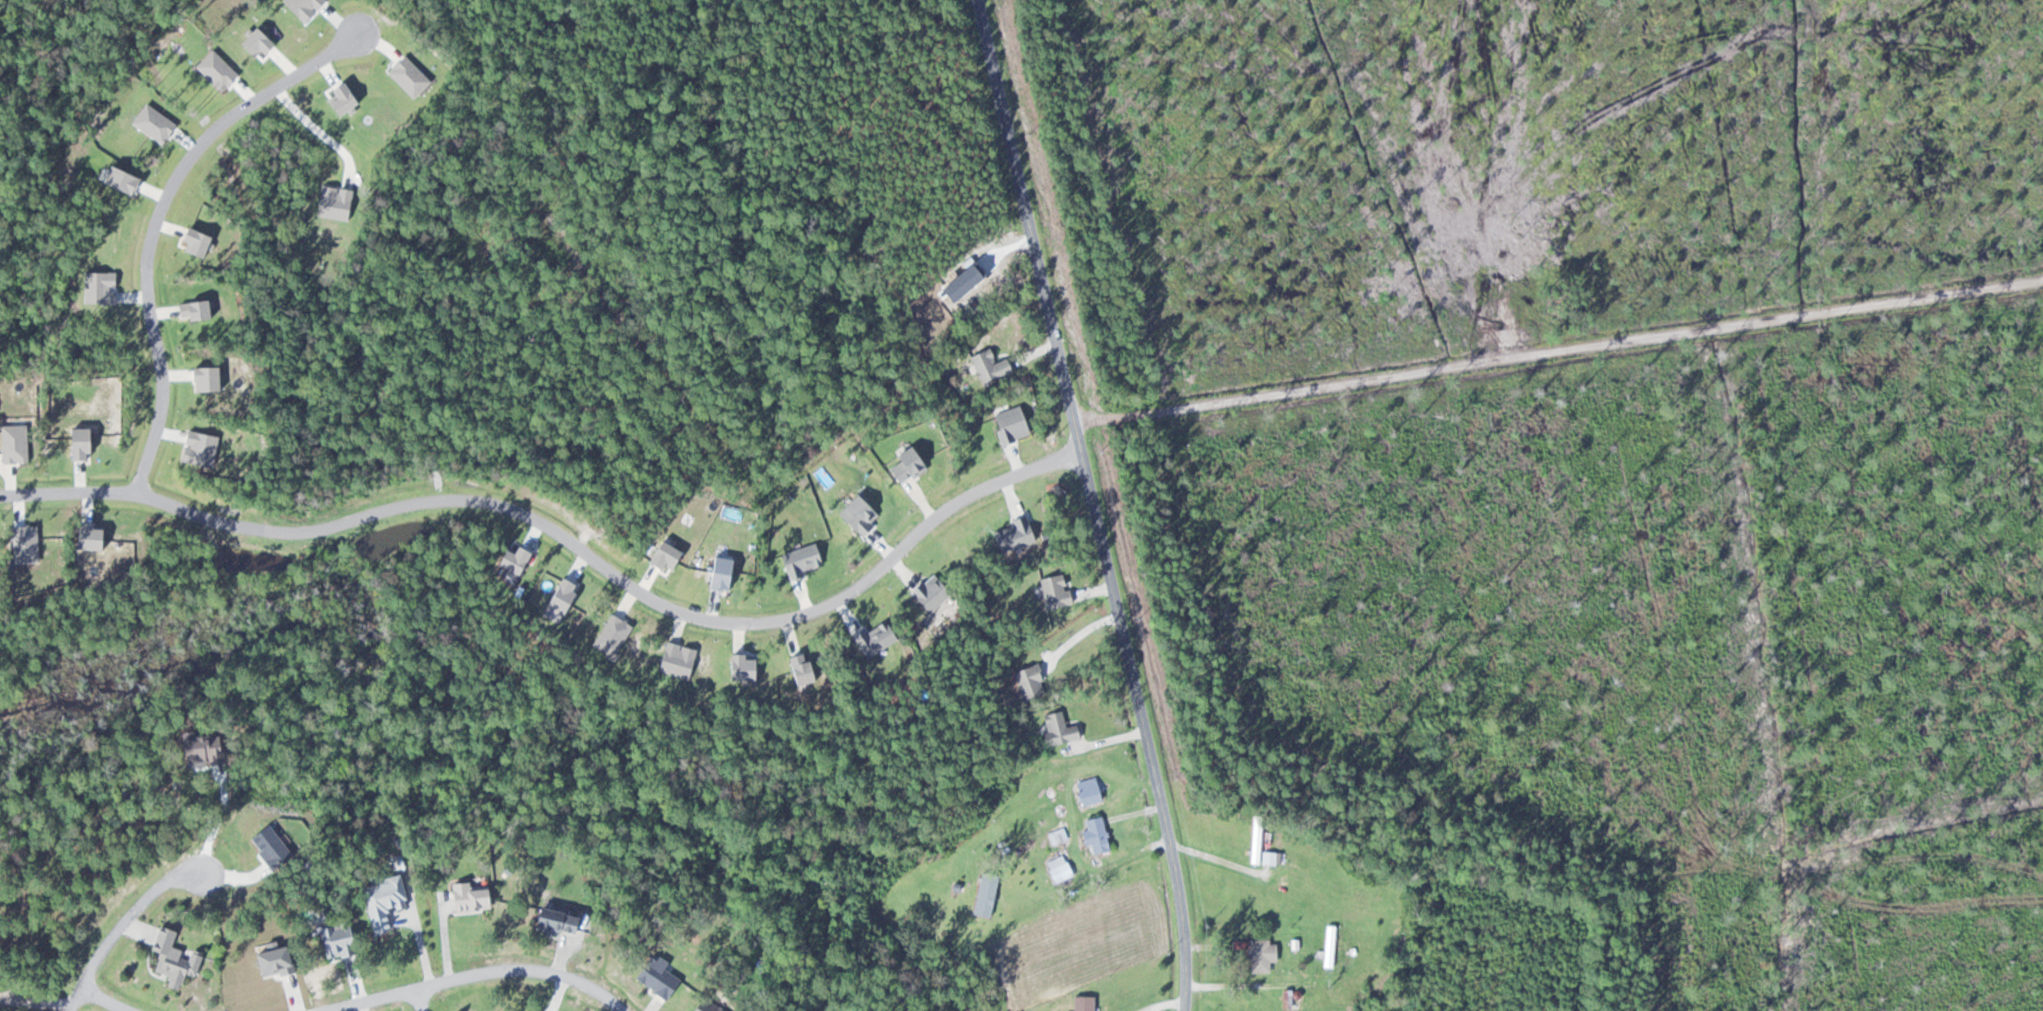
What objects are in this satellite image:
road: (1564, 414)
road: (1093, 503)
building: (1087, 791)
building: (1094, 835)
building: (1255, 841)
building: (1058, 869)
building: (467, 897)
building: (381, 900)
building: (554, 921)
road: (119, 927)
building: (335, 939)
building: (1328, 946)
building: (1258, 953)
building: (173, 960)
road: (478, 972)
road: (104, 999)
road: (420, 999)
building: (1081, 1003)
building: (706, 1006)

